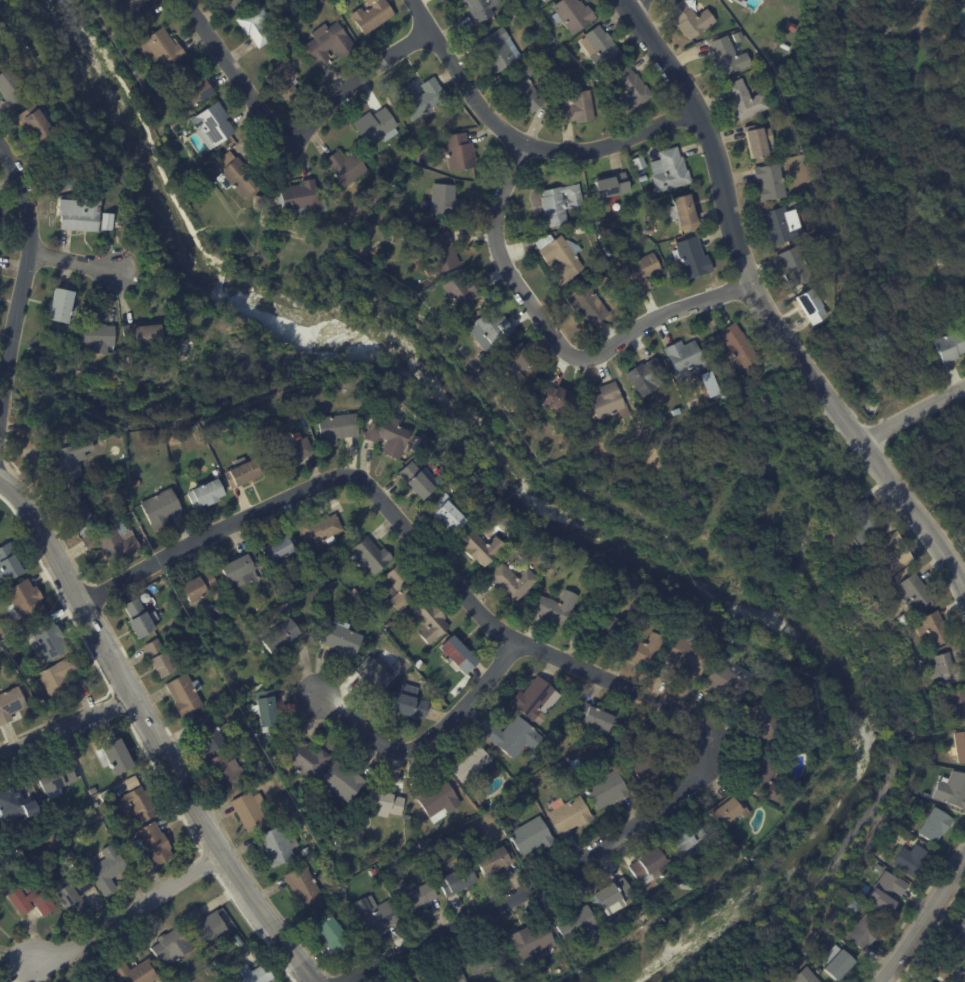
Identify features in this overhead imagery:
building: (545, 0)
building: (740, 1)
building: (236, 3)
building: (313, 3)
road: (634, 4)
building: (480, 8)
building: (136, 11)
building: (519, 12)
building: (574, 14)
building: (372, 15)
building: (692, 19)
building: (256, 25)
building: (794, 27)
building: (550, 37)
building: (964, 42)
building: (329, 43)
building: (601, 46)
building: (785, 46)
building: (164, 48)
building: (499, 50)
building: (964, 52)
building: (545, 56)
building: (0, 57)
building: (728, 58)
building: (759, 61)
building: (285, 81)
building: (191, 85)
building: (11, 88)
building: (526, 88)
building: (631, 91)
building: (168, 98)
building: (422, 99)
building: (746, 101)
building: (578, 108)
building: (774, 120)
building: (35, 123)
building: (212, 123)
building: (377, 126)
road: (285, 140)
building: (759, 141)
road: (520, 145)
building: (460, 152)
building: (346, 168)
building: (63, 170)
building: (670, 171)
building: (238, 175)
building: (644, 179)
building: (771, 183)
building: (612, 186)
building: (819, 190)
building: (649, 192)
building: (377, 195)
building: (299, 199)
building: (448, 202)
building: (560, 205)
building: (685, 213)
building: (80, 215)
building: (106, 221)
building: (784, 226)
building: (582, 230)
building: (419, 231)
building: (649, 231)
building: (673, 237)
building: (64, 239)
building: (609, 251)
building: (441, 255)
building: (562, 257)
building: (694, 259)
road: (76, 260)
building: (796, 267)
building: (829, 268)
building: (643, 272)
road: (25, 279)
building: (465, 294)
building: (603, 297)
building: (589, 305)
building: (62, 307)
building: (813, 307)
road: (763, 308)
building: (493, 330)
building: (97, 334)
building: (144, 337)
road: (557, 339)
building: (168, 340)
building: (951, 346)
building: (739, 348)
building: (685, 359)
building: (131, 360)
building: (710, 362)
building: (524, 364)
building: (120, 368)
building: (647, 378)
building: (735, 387)
building: (559, 400)
building: (610, 403)
building: (677, 412)
road: (914, 414)
building: (49, 425)
building: (103, 425)
building: (337, 429)
building: (388, 435)
building: (290, 451)
building: (65, 464)
building: (243, 475)
building: (419, 481)
building: (136, 483)
building: (102, 486)
building: (451, 492)
building: (206, 495)
building: (489, 500)
building: (73, 507)
building: (161, 509)
building: (449, 516)
building: (870, 522)
building: (964, 532)
building: (321, 533)
road: (212, 536)
building: (112, 541)
building: (280, 546)
building: (480, 549)
building: (370, 555)
building: (545, 558)
building: (9, 562)
building: (242, 567)
building: (329, 574)
building: (512, 582)
building: (202, 587)
building: (404, 587)
building: (355, 591)
building: (916, 592)
building: (146, 597)
building: (25, 600)
building: (328, 600)
building: (239, 604)
building: (587, 607)
building: (891, 607)
building: (556, 609)
building: (141, 618)
building: (900, 618)
building: (430, 621)
building: (388, 624)
building: (934, 628)
building: (599, 629)
building: (281, 635)
road: (509, 635)
building: (47, 638)
building: (343, 638)
building: (644, 649)
building: (0, 653)
building: (219, 654)
building: (459, 654)
building: (690, 654)
road: (108, 655)
building: (159, 658)
building: (420, 664)
building: (947, 669)
building: (375, 672)
building: (60, 678)
building: (731, 680)
building: (563, 688)
building: (185, 694)
building: (537, 699)
building: (44, 700)
building: (11, 704)
building: (410, 704)
building: (958, 708)
building: (267, 709)
building: (596, 717)
building: (768, 720)
building: (941, 725)
road: (66, 727)
building: (211, 733)
building: (515, 736)
road: (429, 738)
building: (254, 740)
building: (812, 742)
building: (959, 746)
building: (115, 756)
building: (306, 758)
building: (503, 761)
building: (472, 763)
building: (576, 763)
building: (508, 766)
building: (229, 773)
building: (56, 777)
building: (764, 777)
building: (131, 781)
building: (343, 781)
building: (606, 789)
building: (958, 791)
building: (1, 794)
building: (108, 795)
building: (439, 798)
building: (385, 803)
building: (97, 804)
building: (139, 804)
building: (29, 807)
building: (729, 809)
building: (250, 811)
building: (571, 815)
building: (937, 825)
building: (708, 826)
building: (533, 836)
building: (120, 841)
building: (688, 841)
building: (155, 844)
building: (277, 846)
building: (421, 849)
building: (58, 852)
building: (146, 861)
building: (495, 861)
building: (913, 861)
building: (890, 865)
building: (650, 866)
building: (107, 868)
building: (374, 871)
building: (458, 882)
road: (545, 882)
building: (303, 885)
building: (685, 886)
building: (73, 889)
building: (885, 891)
building: (29, 893)
building: (614, 896)
building: (414, 897)
building: (575, 899)
road: (259, 909)
road: (127, 915)
building: (376, 915)
road: (922, 922)
building: (577, 924)
building: (207, 926)
building: (865, 931)
building: (962, 933)
building: (333, 935)
building: (238, 940)
building: (531, 942)
building: (172, 947)
building: (488, 959)
building: (839, 964)
building: (949, 966)
building: (134, 970)
building: (447, 973)
building: (253, 974)
building: (807, 976)
building: (926, 980)
building: (930, 981)

